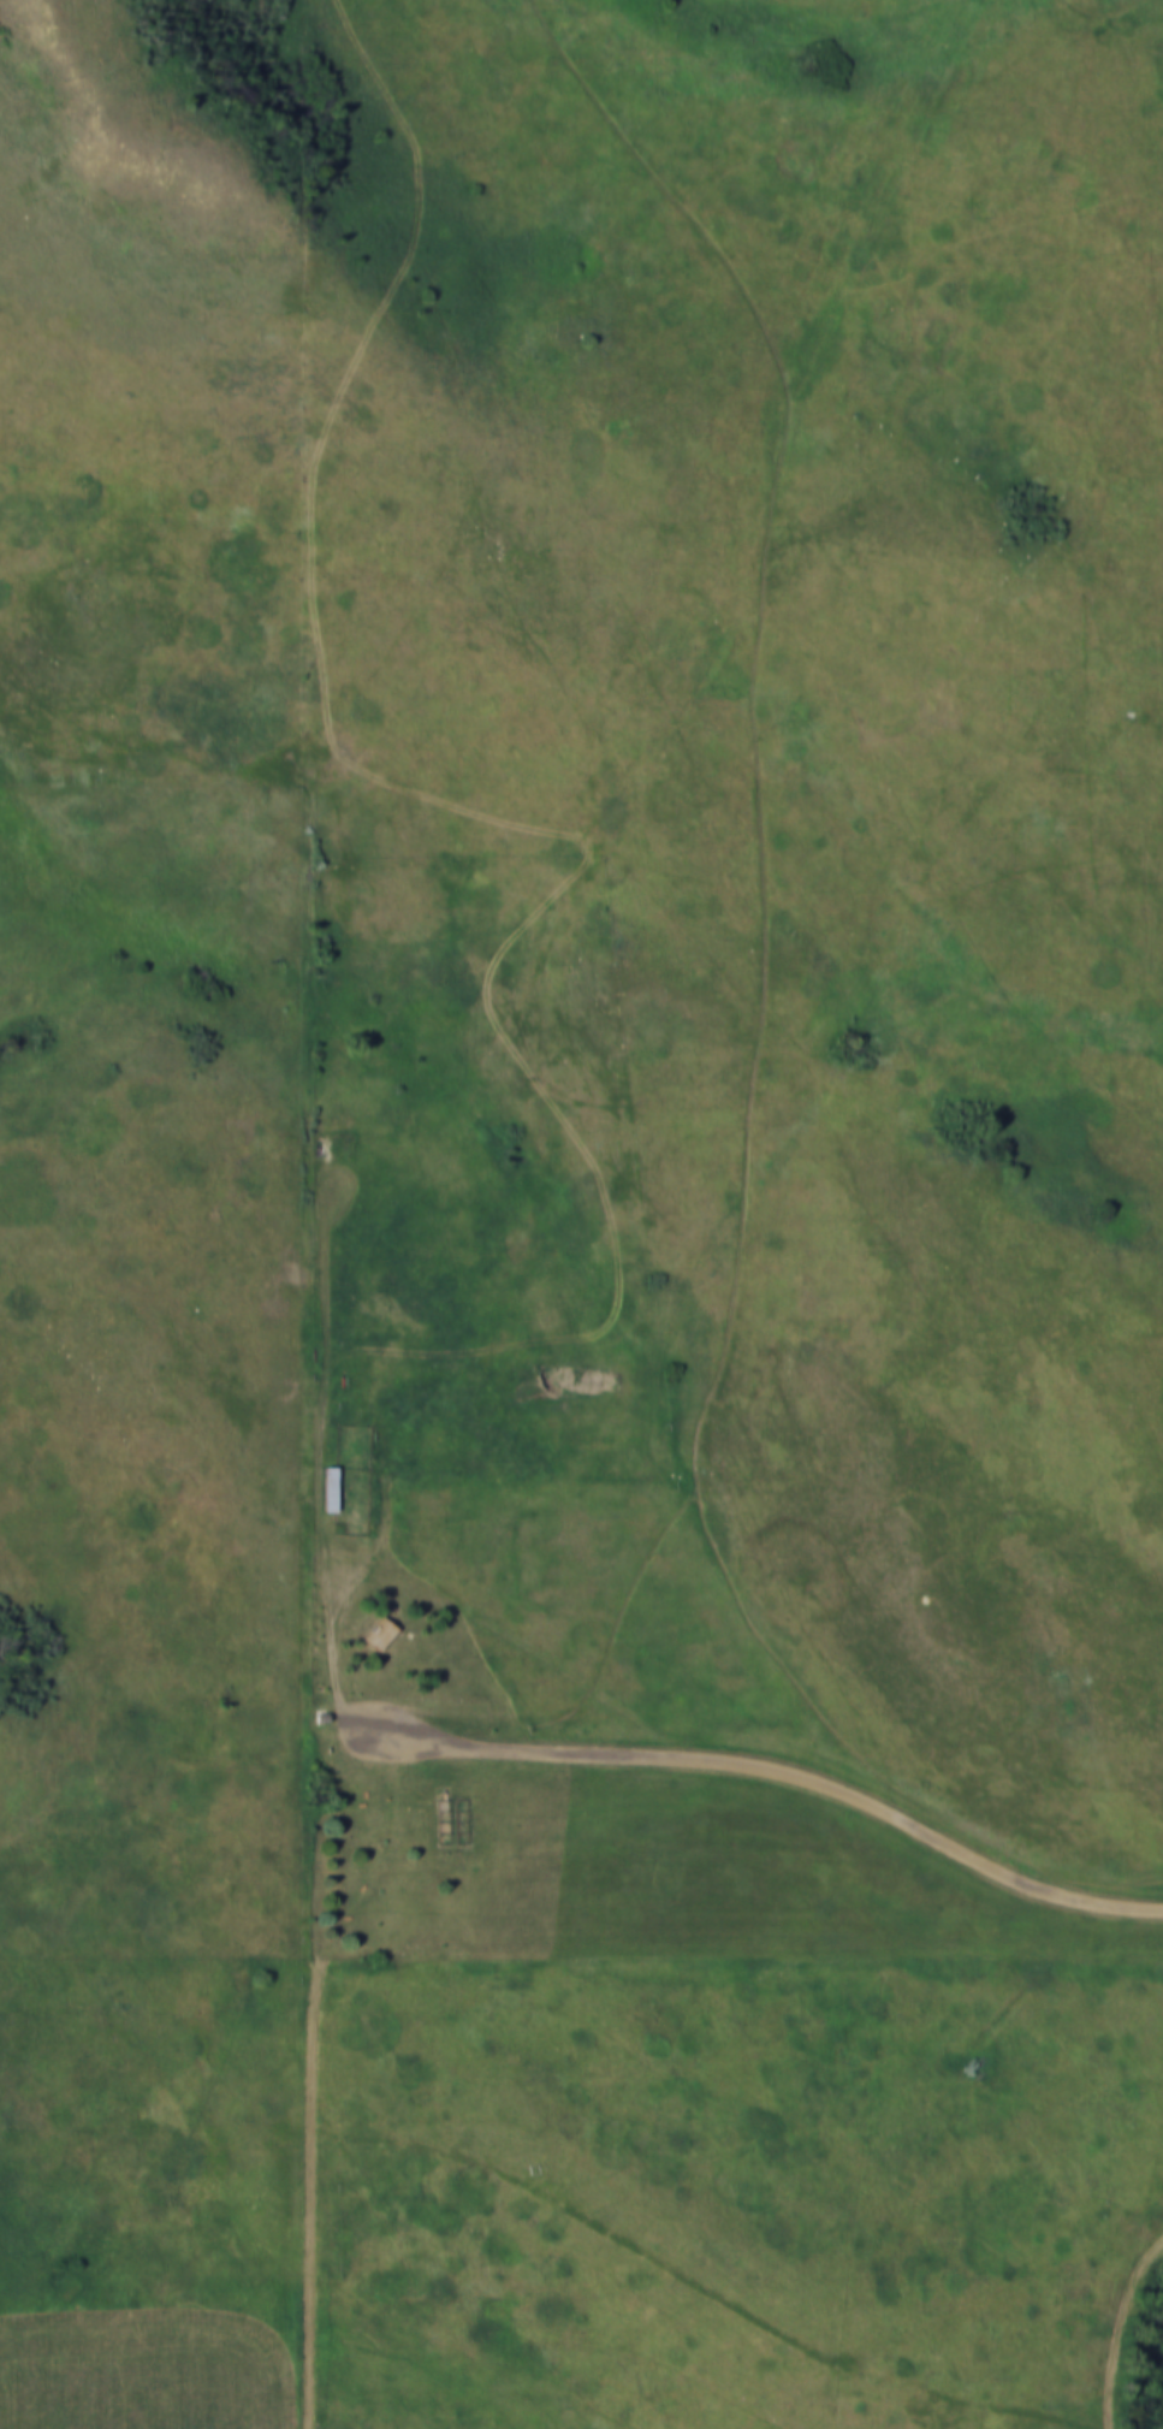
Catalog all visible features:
park: (658, 910)
building: (333, 1487)
road: (332, 1631)
building: (382, 1633)
road: (775, 1777)
road: (925, 1821)
road: (339, 2151)

